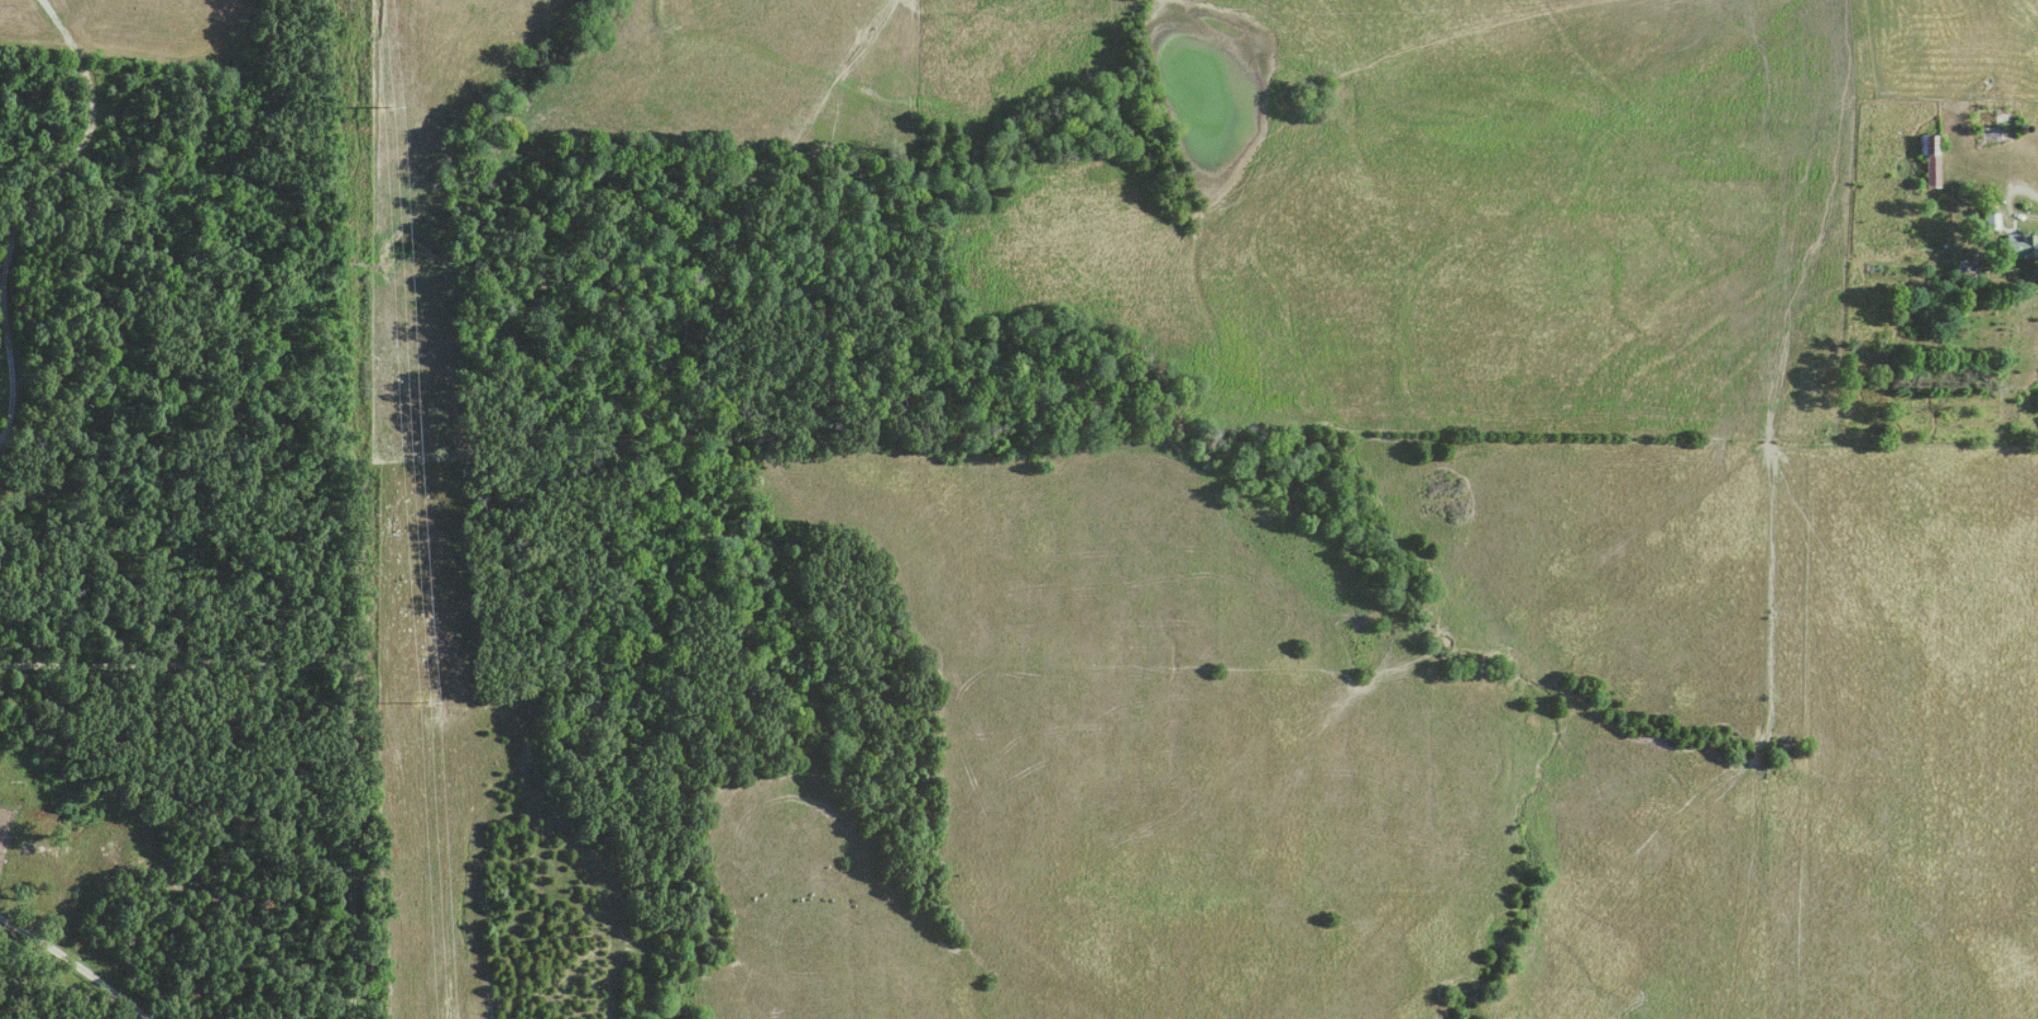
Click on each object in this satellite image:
building: (1931, 158)
road: (1996, 178)
building: (1991, 221)
building: (2015, 245)
road: (77, 964)

